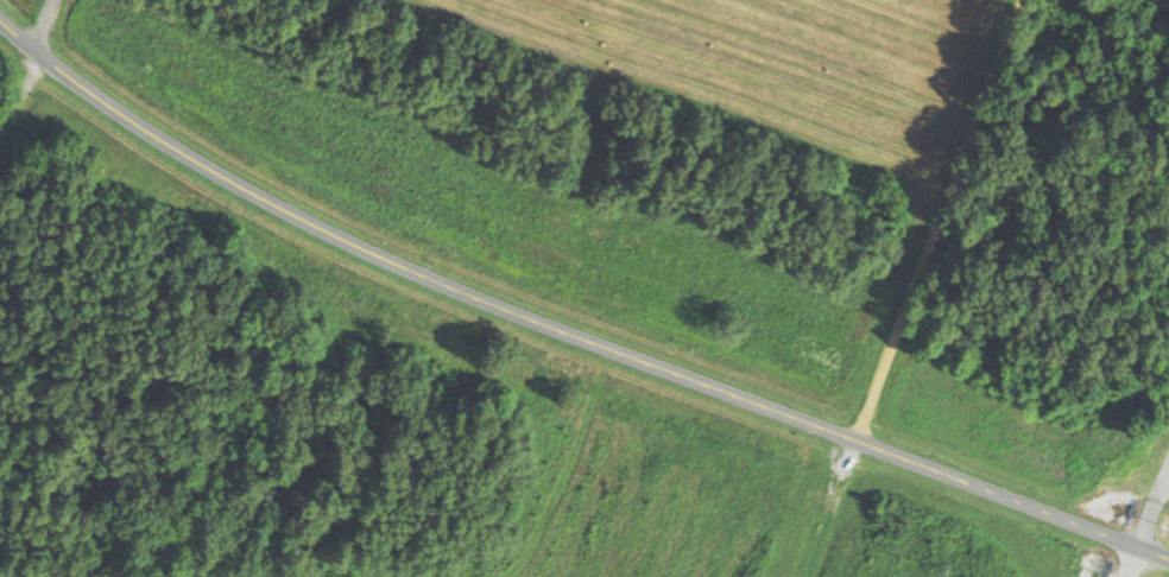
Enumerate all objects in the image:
road: (48, 23)
road: (914, 288)
road: (563, 325)
road: (45, 477)
road: (1145, 516)

